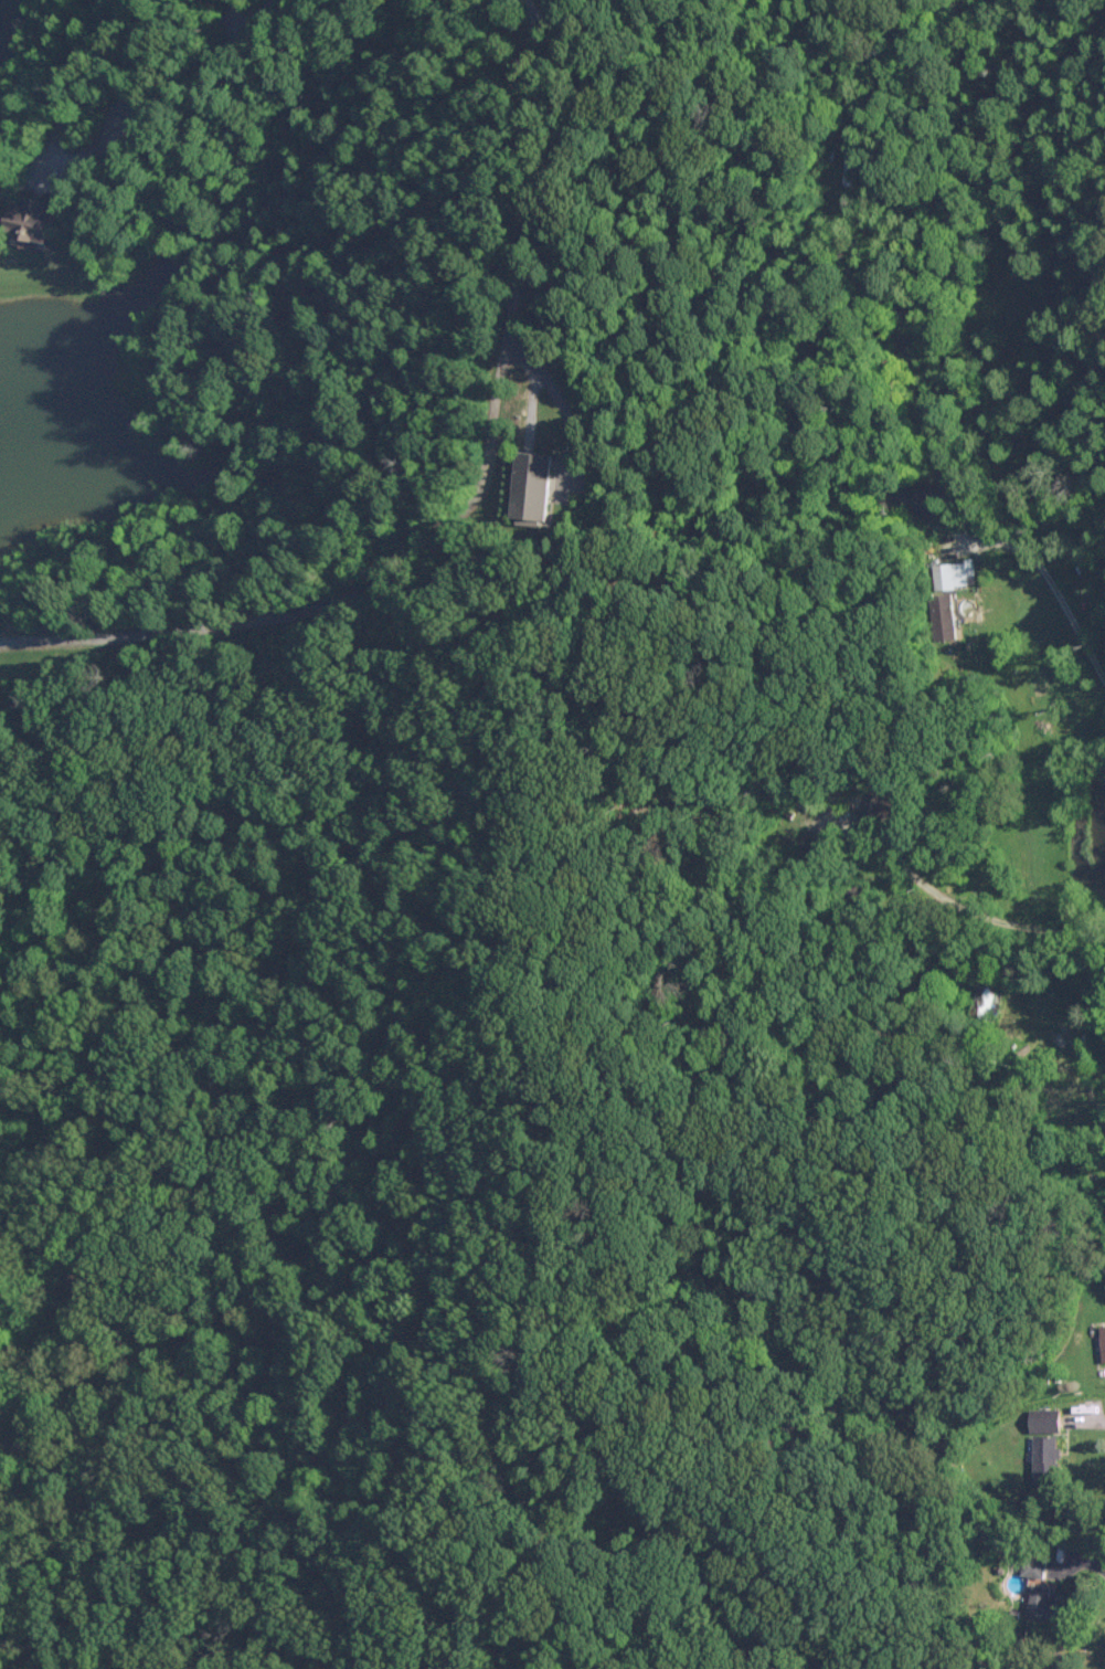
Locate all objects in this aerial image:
road: (71, 76)
road: (152, 95)
road: (697, 112)
road: (26, 176)
building: (35, 219)
road: (559, 398)
building: (533, 485)
road: (470, 492)
building: (956, 573)
road: (1049, 585)
building: (881, 803)
road: (1051, 909)
road: (1070, 1045)
building: (1103, 1341)
road: (1088, 1422)
building: (1046, 1446)
building: (1032, 1565)
building: (1042, 1601)

